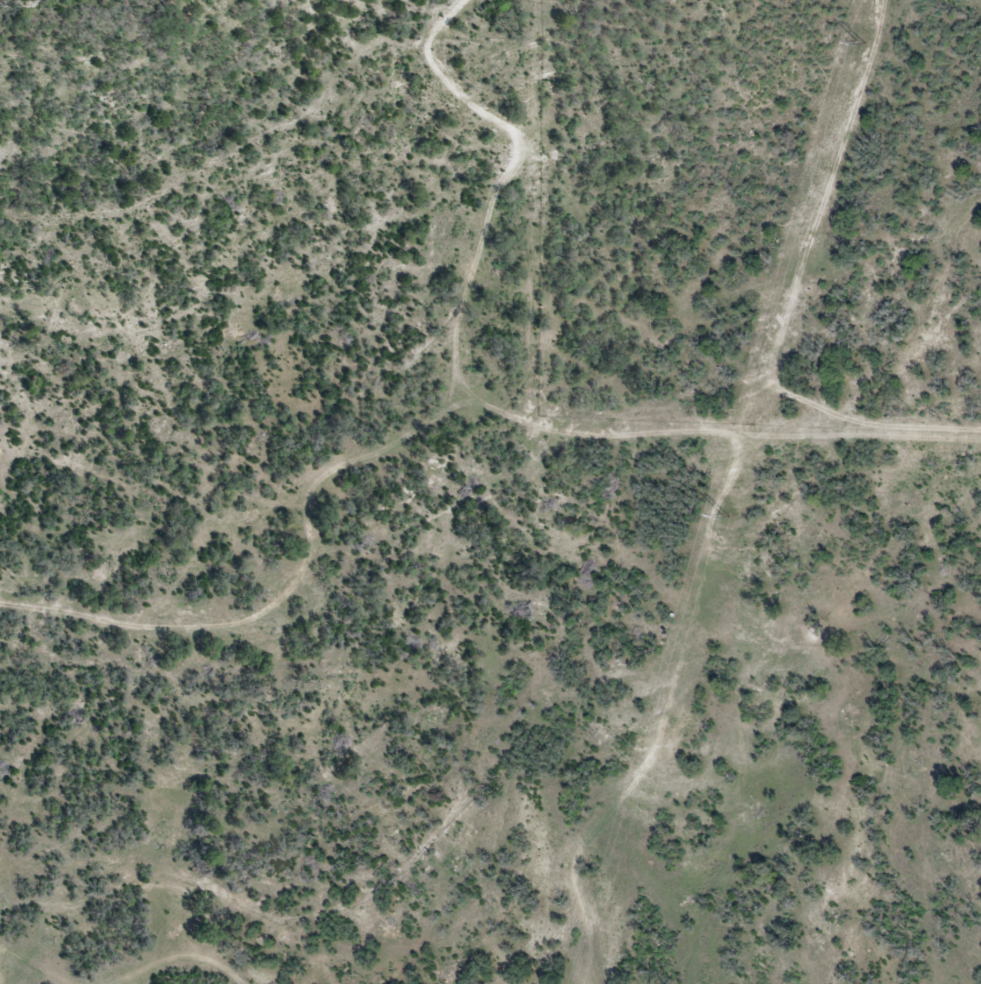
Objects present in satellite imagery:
power tower: (862, 40)
power tower: (727, 514)

